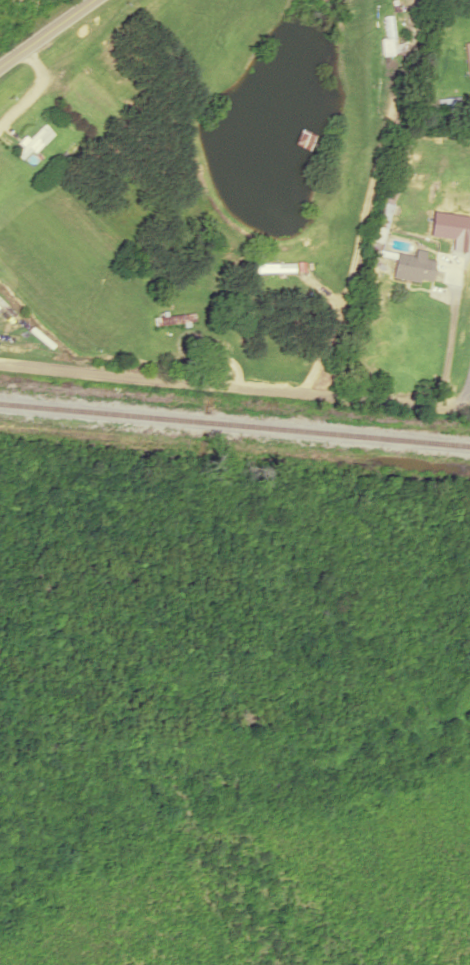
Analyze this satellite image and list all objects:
road: (45, 32)
building: (388, 37)
building: (466, 58)
building: (98, 86)
building: (447, 102)
building: (31, 141)
building: (382, 212)
building: (413, 266)
building: (272, 267)
building: (173, 318)
road: (235, 381)
railway: (235, 419)

